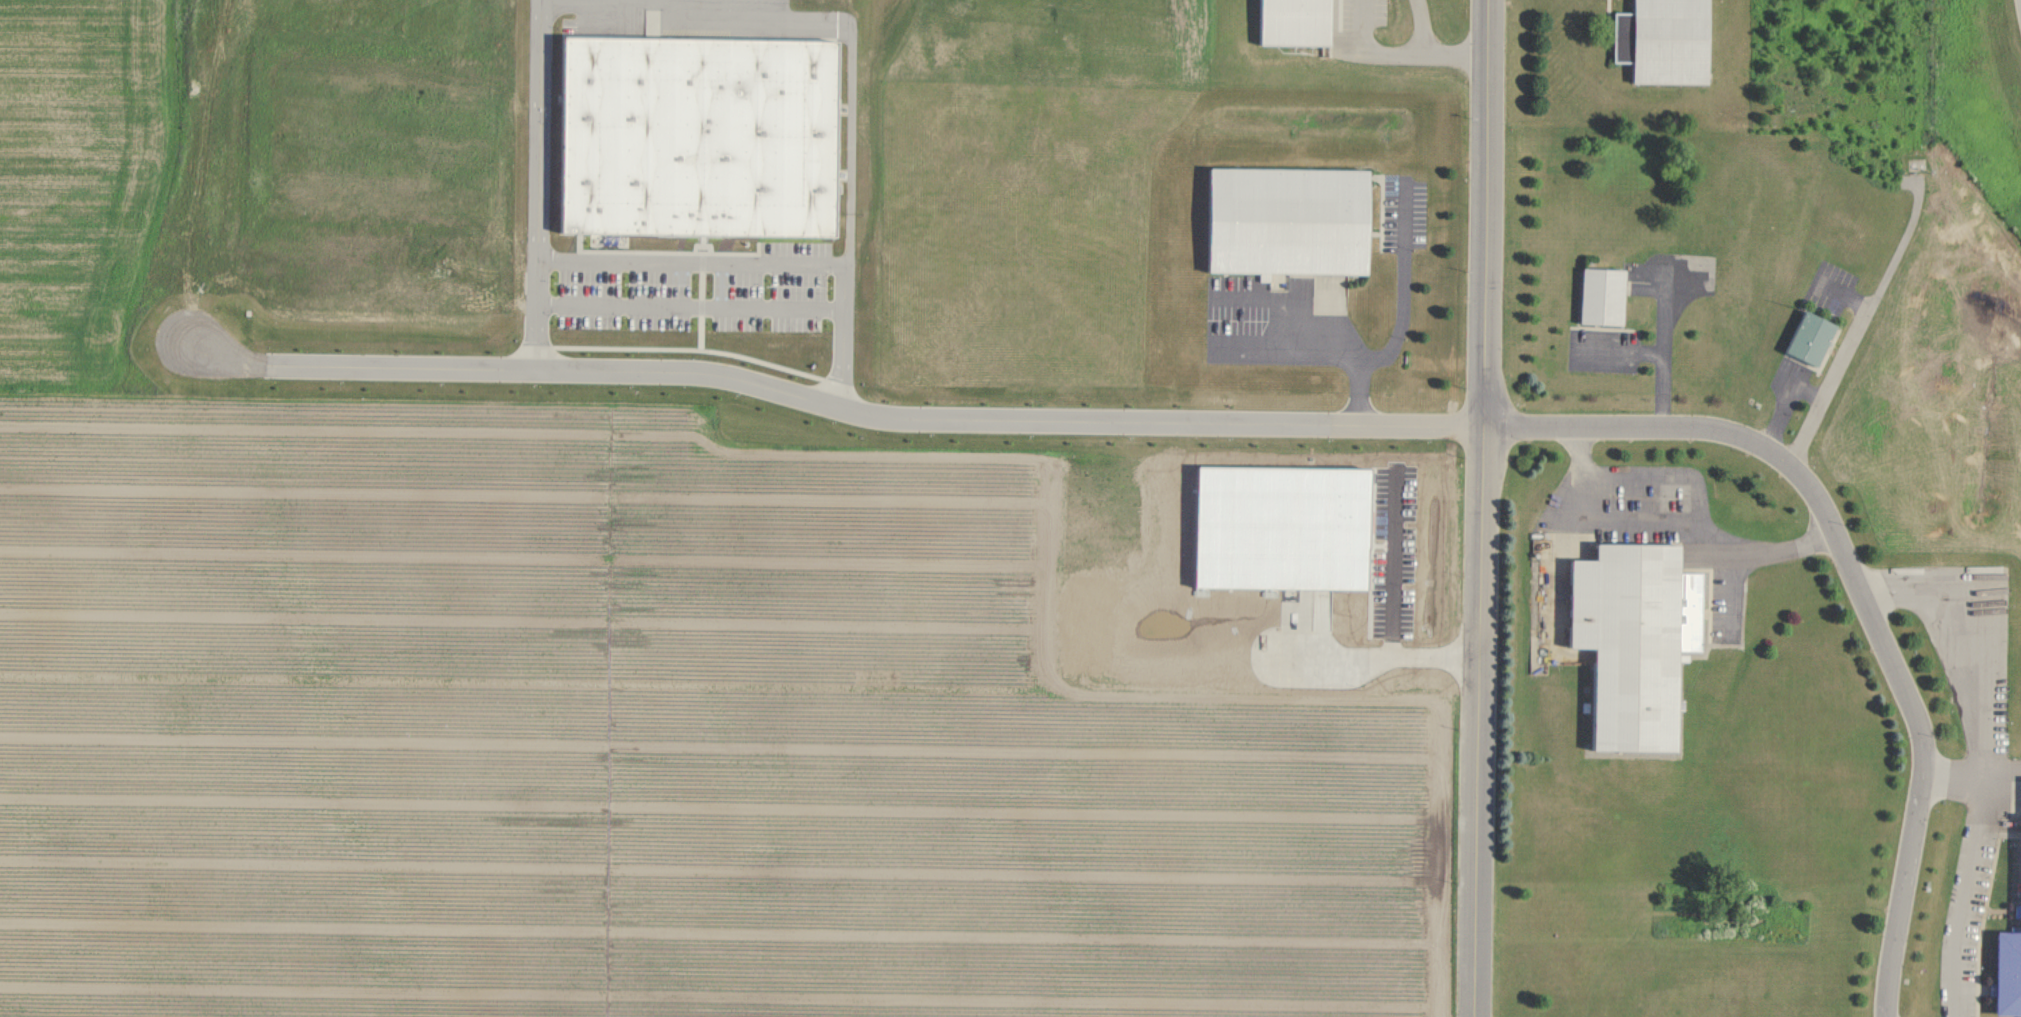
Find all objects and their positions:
building: (1294, 22)
road: (1421, 26)
building: (1666, 41)
road: (1368, 51)
road: (1456, 53)
building: (698, 136)
building: (1286, 221)
road: (701, 261)
building: (1602, 297)
road: (1401, 320)
building: (1809, 339)
road: (1288, 356)
road: (1664, 357)
road: (835, 404)
road: (1481, 508)
road: (1668, 519)
road: (1857, 580)
building: (1630, 643)
road: (1980, 759)
road: (2001, 773)
road: (1954, 779)
building: (2019, 910)
building: (2008, 975)

